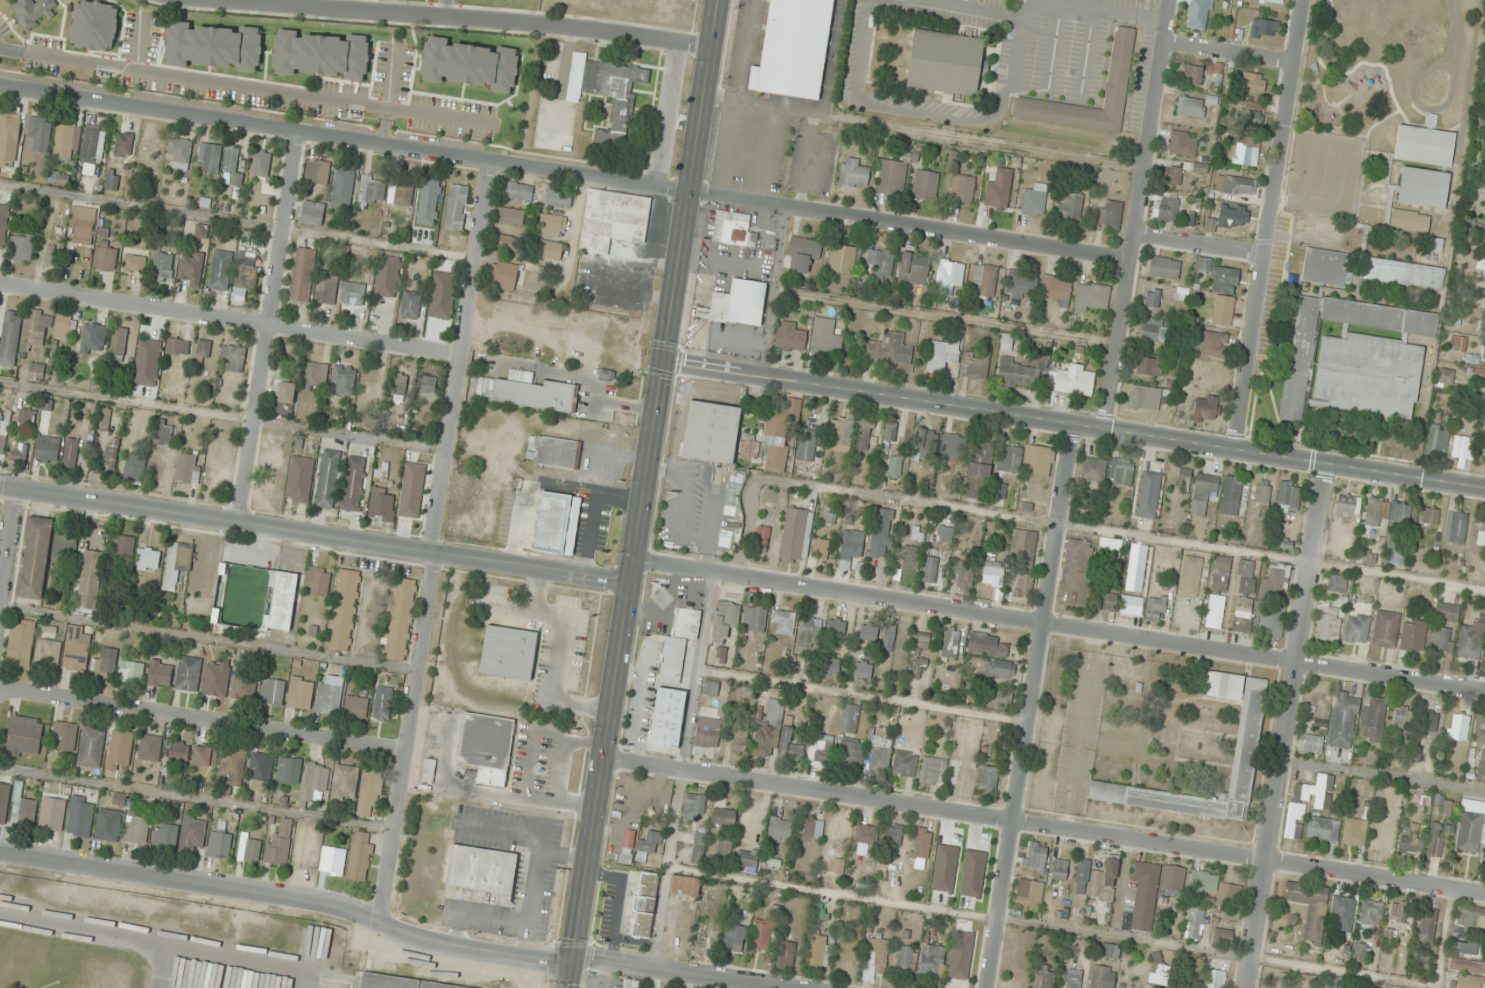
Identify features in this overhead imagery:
building: (1271, 1)
building: (32, 10)
building: (1199, 14)
road: (466, 17)
building: (94, 25)
building: (1264, 28)
road: (1454, 28)
building: (213, 45)
building: (794, 48)
road: (1229, 52)
building: (321, 54)
parking lot: (1003, 61)
building: (947, 62)
building: (1120, 62)
building: (469, 64)
park: (1390, 66)
building: (1199, 71)
building: (1253, 82)
building: (607, 94)
road: (1421, 106)
building: (1190, 107)
building: (1247, 116)
building: (40, 133)
building: (9, 139)
building: (67, 141)
building: (94, 141)
building: (124, 144)
building: (1181, 144)
building: (1424, 144)
building: (180, 152)
building: (1245, 154)
building: (209, 156)
building: (231, 159)
building: (261, 163)
building: (317, 172)
road: (566, 172)
building: (853, 173)
building: (1172, 176)
building: (892, 177)
building: (59, 178)
building: (112, 179)
building: (925, 184)
building: (1238, 185)
building: (344, 187)
building: (1424, 187)
building: (962, 188)
building: (372, 189)
building: (999, 189)
building: (519, 191)
building: (400, 193)
building: (559, 198)
building: (1034, 199)
building: (1070, 205)
building: (456, 207)
building: (1168, 209)
building: (313, 211)
building: (1110, 214)
building: (1377, 214)
road: (1137, 215)
building: (512, 216)
building: (1233, 216)
building: (613, 219)
building: (1409, 221)
building: (4, 224)
building: (84, 225)
building: (553, 225)
road: (1269, 225)
building: (1316, 226)
building: (733, 229)
building: (1479, 232)
building: (507, 242)
road: (1200, 244)
building: (21, 248)
building: (551, 249)
building: (804, 252)
building: (53, 255)
building: (842, 259)
building: (881, 261)
building: (134, 263)
building: (1481, 263)
building: (1325, 266)
building: (162, 267)
building: (1164, 267)
building: (914, 268)
building: (221, 270)
building: (1403, 273)
building: (302, 274)
building: (192, 275)
building: (244, 275)
building: (388, 275)
building: (503, 275)
building: (1219, 276)
building: (949, 277)
building: (985, 280)
building: (1019, 284)
building: (327, 287)
building: (1057, 289)
building: (353, 294)
building: (1484, 294)
building: (1091, 295)
building: (1152, 298)
building: (737, 303)
building: (410, 304)
building: (1223, 310)
road: (230, 320)
building: (1482, 322)
road: (267, 326)
building: (62, 327)
building: (37, 329)
building: (1154, 329)
building: (790, 336)
building: (825, 336)
building: (10, 337)
building: (93, 339)
building: (1006, 342)
building: (1458, 342)
building: (1212, 343)
building: (118, 344)
building: (177, 346)
building: (889, 349)
building: (202, 352)
building: (942, 353)
building: (233, 356)
traffic signals: (667, 361)
building: (975, 366)
building: (1147, 366)
building: (36, 370)
building: (1018, 374)
building: (1369, 375)
building: (1446, 375)
building: (316, 376)
building: (1297, 377)
building: (345, 379)
building: (1075, 380)
building: (400, 385)
building: (428, 388)
building: (527, 391)
building: (283, 392)
building: (1144, 397)
building: (366, 398)
building: (1206, 408)
building: (1483, 411)
building: (27, 415)
building: (104, 419)
road: (1075, 425)
building: (162, 432)
building: (710, 432)
building: (891, 432)
building: (841, 433)
building: (864, 433)
building: (1, 434)
building: (780, 434)
building: (926, 439)
building: (1436, 439)
building: (807, 444)
building: (953, 446)
building: (47, 449)
building: (1460, 450)
building: (18, 452)
building: (555, 452)
building: (70, 453)
building: (111, 453)
building: (1010, 458)
building: (1039, 460)
building: (895, 466)
building: (134, 468)
building: (188, 468)
building: (1093, 469)
building: (978, 471)
building: (1121, 471)
building: (327, 478)
building: (1184, 478)
building: (300, 479)
building: (270, 481)
building: (354, 483)
building: (412, 490)
building: (1262, 492)
road: (643, 494)
building: (1148, 494)
building: (1203, 494)
building: (1231, 495)
building: (1288, 497)
building: (381, 504)
building: (1346, 505)
parking lot: (1, 506)
building: (1376, 512)
building: (1401, 512)
building: (1429, 516)
building: (556, 523)
building: (1455, 527)
building: (1481, 530)
building: (880, 533)
road: (315, 534)
building: (945, 534)
building: (795, 535)
road: (436, 542)
building: (762, 544)
building: (123, 545)
building: (1023, 546)
building: (850, 547)
building: (64, 549)
building: (820, 549)
building: (1109, 550)
road: (9, 553)
building: (1077, 554)
building: (1396, 556)
building: (35, 557)
building: (148, 559)
building: (907, 559)
building: (177, 563)
building: (1136, 566)
building: (929, 569)
building: (992, 573)
building: (1245, 575)
building: (1190, 576)
building: (963, 577)
building: (90, 579)
building: (1275, 580)
building: (318, 581)
building: (1337, 584)
building: (1024, 585)
building: (1218, 590)
park: (253, 598)
building: (281, 601)
building: (1104, 601)
building: (1132, 605)
building: (1156, 607)
building: (343, 609)
building: (1447, 611)
building: (1242, 614)
building: (398, 619)
building: (755, 619)
building: (1271, 619)
building: (724, 620)
building: (782, 622)
building: (1329, 624)
road: (1058, 626)
building: (836, 627)
building: (1357, 628)
building: (1386, 628)
building: (810, 631)
building: (868, 633)
building: (1413, 635)
building: (888, 637)
building: (1439, 638)
building: (680, 639)
building: (20, 642)
building: (1469, 642)
building: (920, 643)
building: (950, 643)
building: (986, 645)
building: (77, 647)
building: (508, 652)
building: (48, 653)
building: (104, 662)
building: (832, 664)
building: (917, 667)
building: (863, 669)
building: (998, 669)
building: (131, 672)
building: (160, 673)
building: (188, 674)
building: (215, 680)
building: (244, 686)
building: (710, 687)
building: (272, 691)
building: (300, 693)
building: (329, 694)
building: (996, 696)
building: (382, 703)
building: (355, 706)
road: (1031, 706)
building: (667, 717)
building: (1372, 717)
road: (203, 718)
building: (851, 718)
building: (1403, 719)
building: (1343, 720)
building: (1429, 721)
road: (1286, 725)
building: (1458, 726)
building: (768, 729)
building: (1479, 730)
building: (24, 736)
building: (63, 736)
building: (707, 737)
building: (739, 739)
building: (1248, 741)
building: (1312, 743)
building: (789, 745)
building: (486, 746)
building: (149, 747)
building: (90, 749)
building: (120, 750)
building: (176, 750)
building: (820, 750)
building: (850, 754)
building: (204, 756)
building: (879, 758)
building: (904, 763)
building: (233, 765)
building: (261, 766)
building: (1481, 767)
building: (933, 769)
building: (289, 770)
building: (429, 770)
building: (988, 778)
building: (314, 781)
building: (344, 783)
building: (369, 794)
building: (4, 801)
building: (1307, 802)
building: (694, 808)
building: (23, 809)
building: (51, 813)
building: (80, 816)
building: (723, 816)
building: (745, 824)
building: (108, 825)
building: (1471, 826)
road: (1045, 827)
building: (813, 828)
building: (780, 829)
building: (136, 830)
building: (1322, 830)
building: (193, 832)
building: (1354, 832)
building: (165, 835)
building: (893, 837)
building: (1383, 837)
building: (865, 839)
building: (1411, 839)
building: (1435, 839)
building: (219, 843)
building: (279, 844)
building: (647, 844)
building: (922, 844)
building: (698, 845)
building: (724, 845)
building: (252, 850)
building: (360, 856)
building: (332, 859)
building: (1035, 859)
building: (747, 860)
building: (836, 862)
building: (481, 869)
road: (669, 869)
building: (1059, 869)
building: (1082, 877)
building: (1104, 880)
building: (1172, 881)
building: (1203, 882)
building: (685, 885)
building: (1230, 891)
building: (1029, 893)
building: (1143, 896)
road: (289, 898)
building: (644, 905)
building: (1309, 907)
building: (1342, 912)
building: (1372, 913)
building: (1399, 915)
building: (1471, 916)
building: (1194, 921)
road: (1054, 925)
building: (1427, 925)
building: (763, 934)
building: (1222, 936)
building: (735, 939)
road: (1445, 939)
building: (1470, 949)
building: (817, 950)
building: (1110, 951)
building: (1360, 952)
building: (786, 953)
building: (877, 955)
building: (905, 956)
building: (932, 960)
building: (1421, 960)
traffic signals: (572, 961)
building: (1466, 965)
road: (681, 970)
building: (1158, 970)
building: (1102, 976)
building: (1072, 978)
building: (1044, 979)
building: (1215, 979)
building: (1308, 981)
building: (1465, 981)
building: (398, 983)
building: (631, 983)
building: (1327, 983)
building: (1124, 987)

